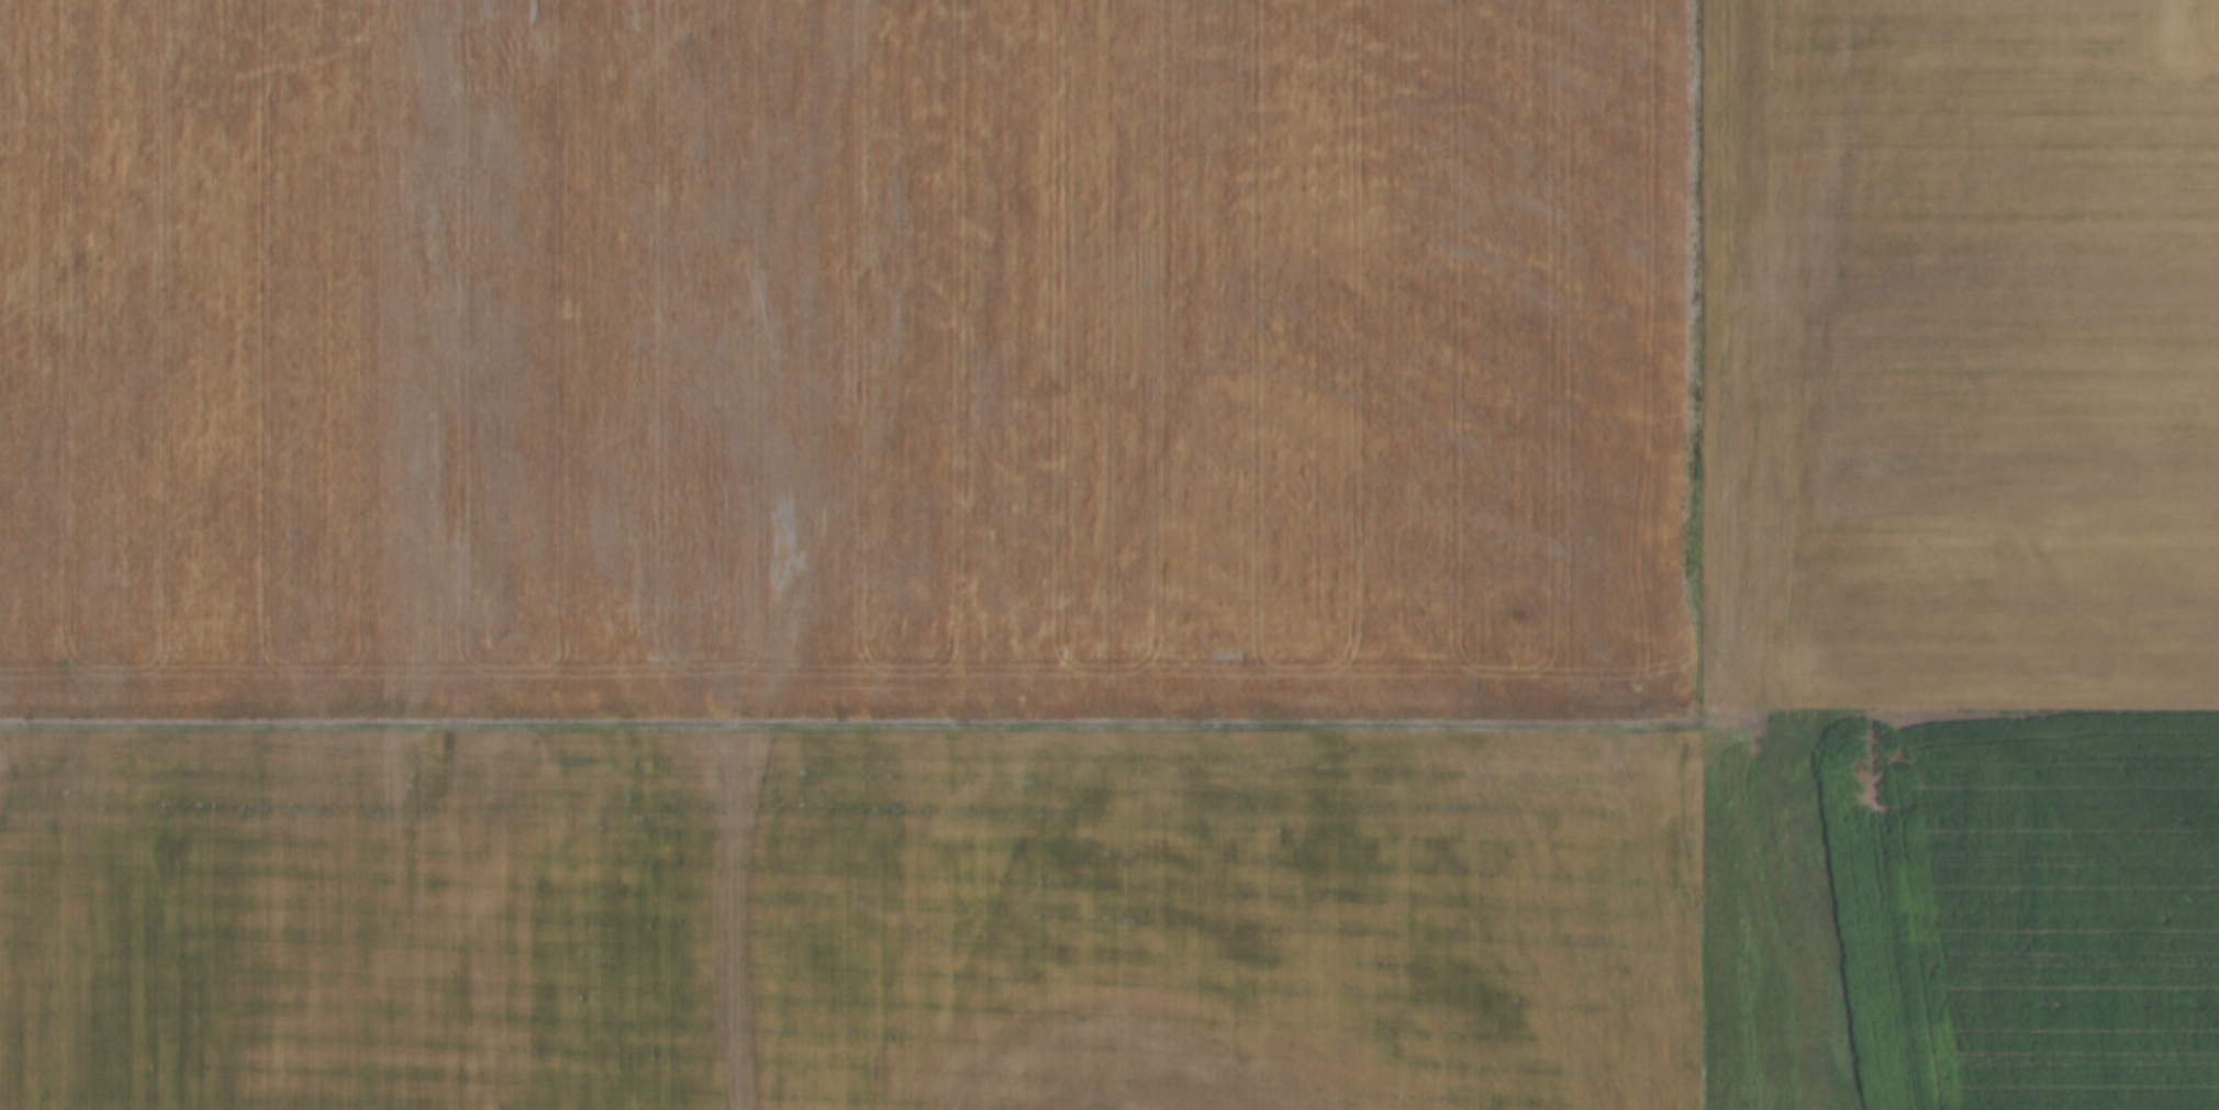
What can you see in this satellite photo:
quarry: (2030, 168)
road: (1804, 557)

